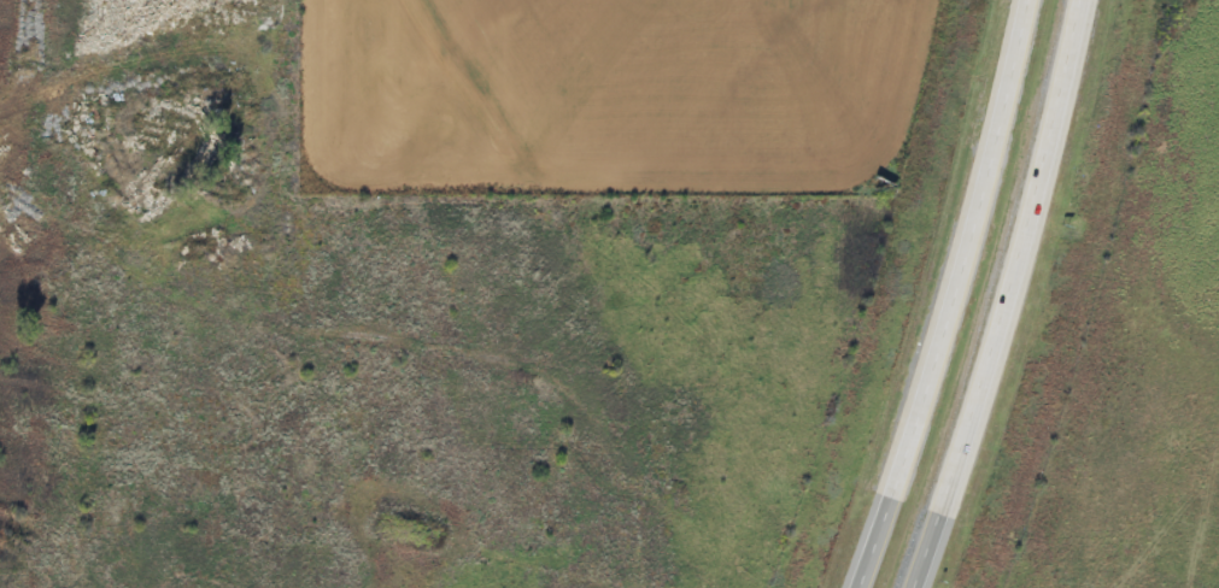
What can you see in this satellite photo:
road: (965, 247)
road: (1015, 255)
road: (873, 540)
road: (924, 548)

